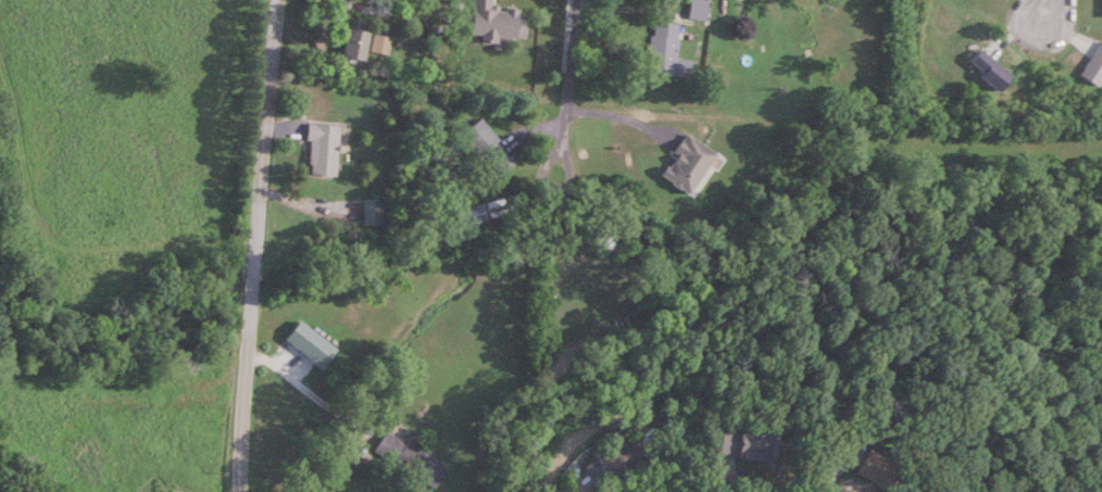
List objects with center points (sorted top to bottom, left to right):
road: (1050, 9)
building: (493, 21)
building: (663, 41)
building: (353, 45)
building: (380, 45)
road: (571, 75)
road: (619, 115)
building: (487, 148)
building: (321, 150)
building: (686, 164)
road: (553, 192)
building: (373, 212)
road: (249, 244)
road: (301, 392)
building: (746, 445)
building: (410, 458)
building: (622, 461)

